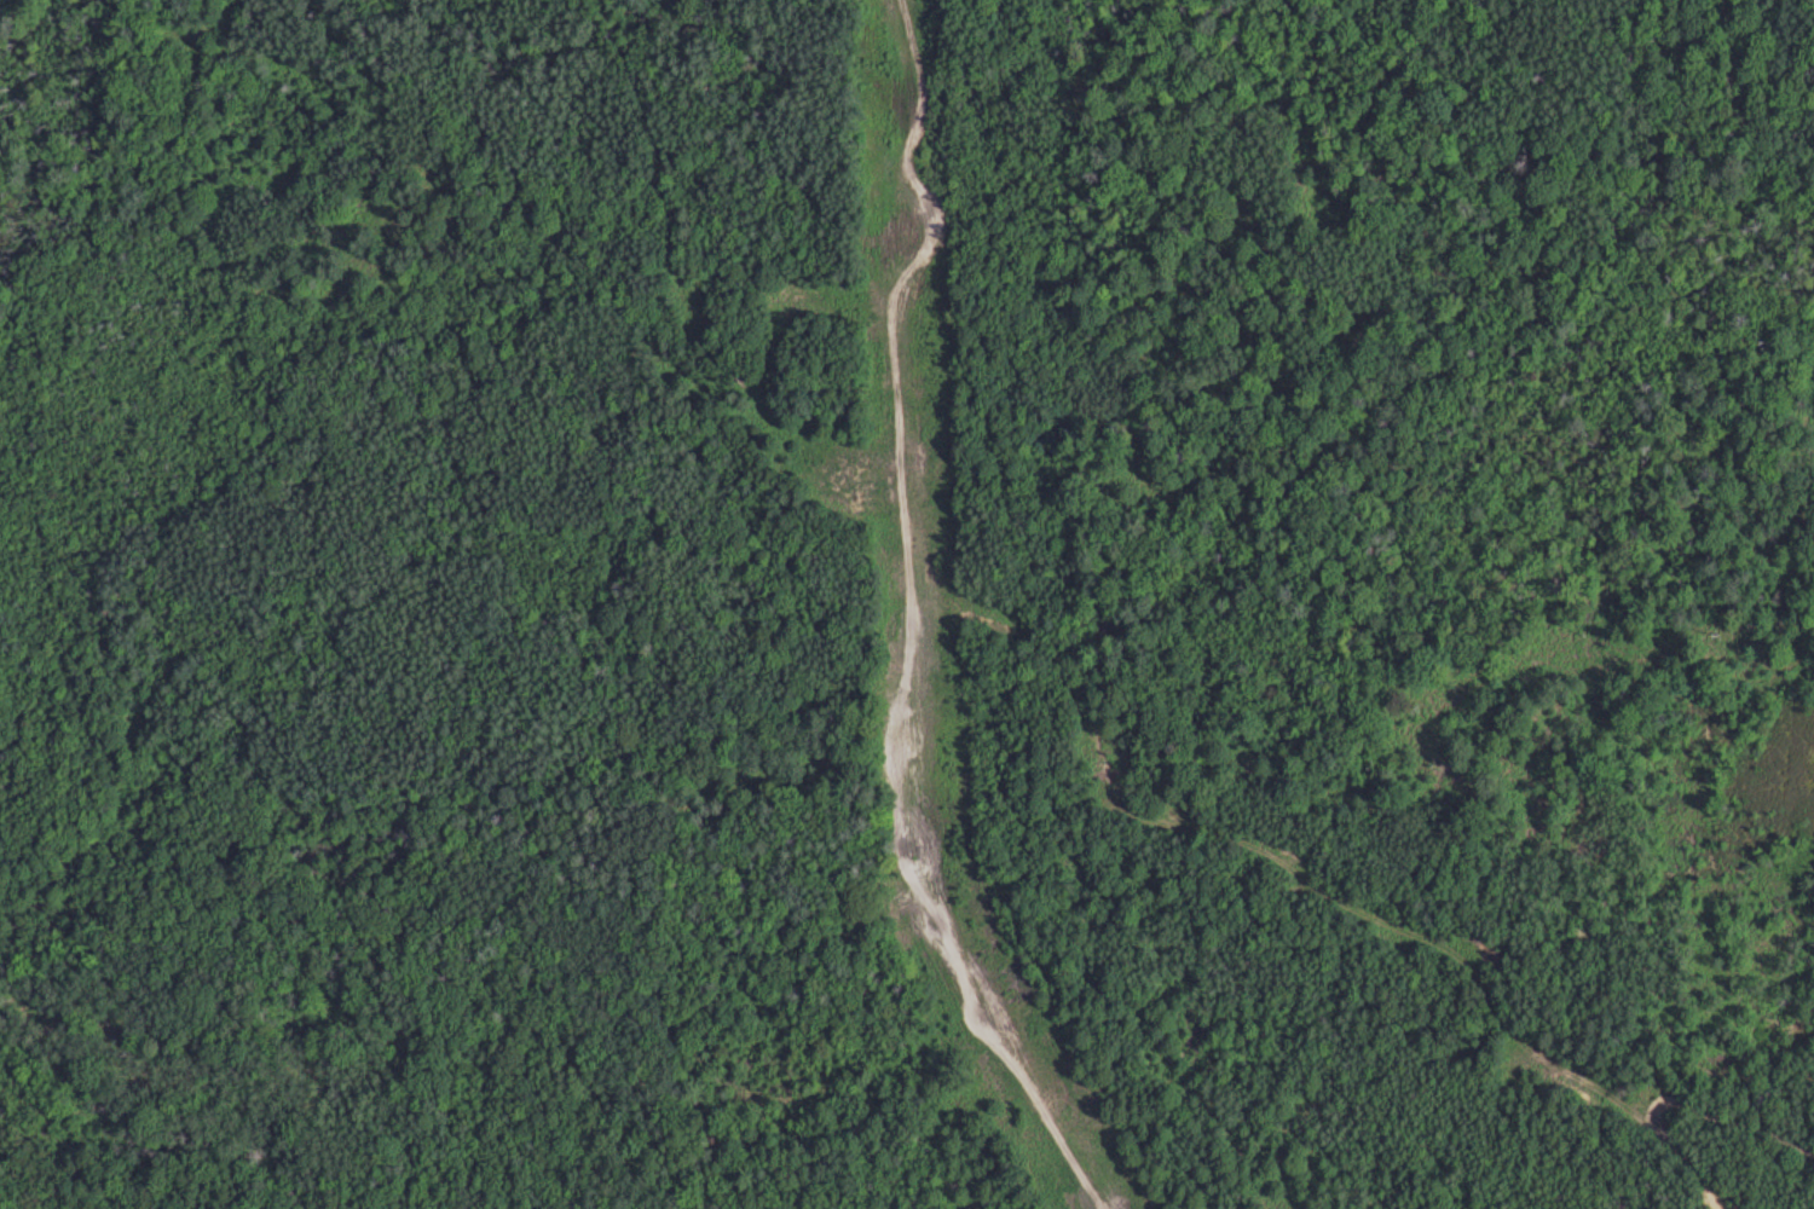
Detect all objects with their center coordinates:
road: (883, 621)
road: (1675, 1139)

